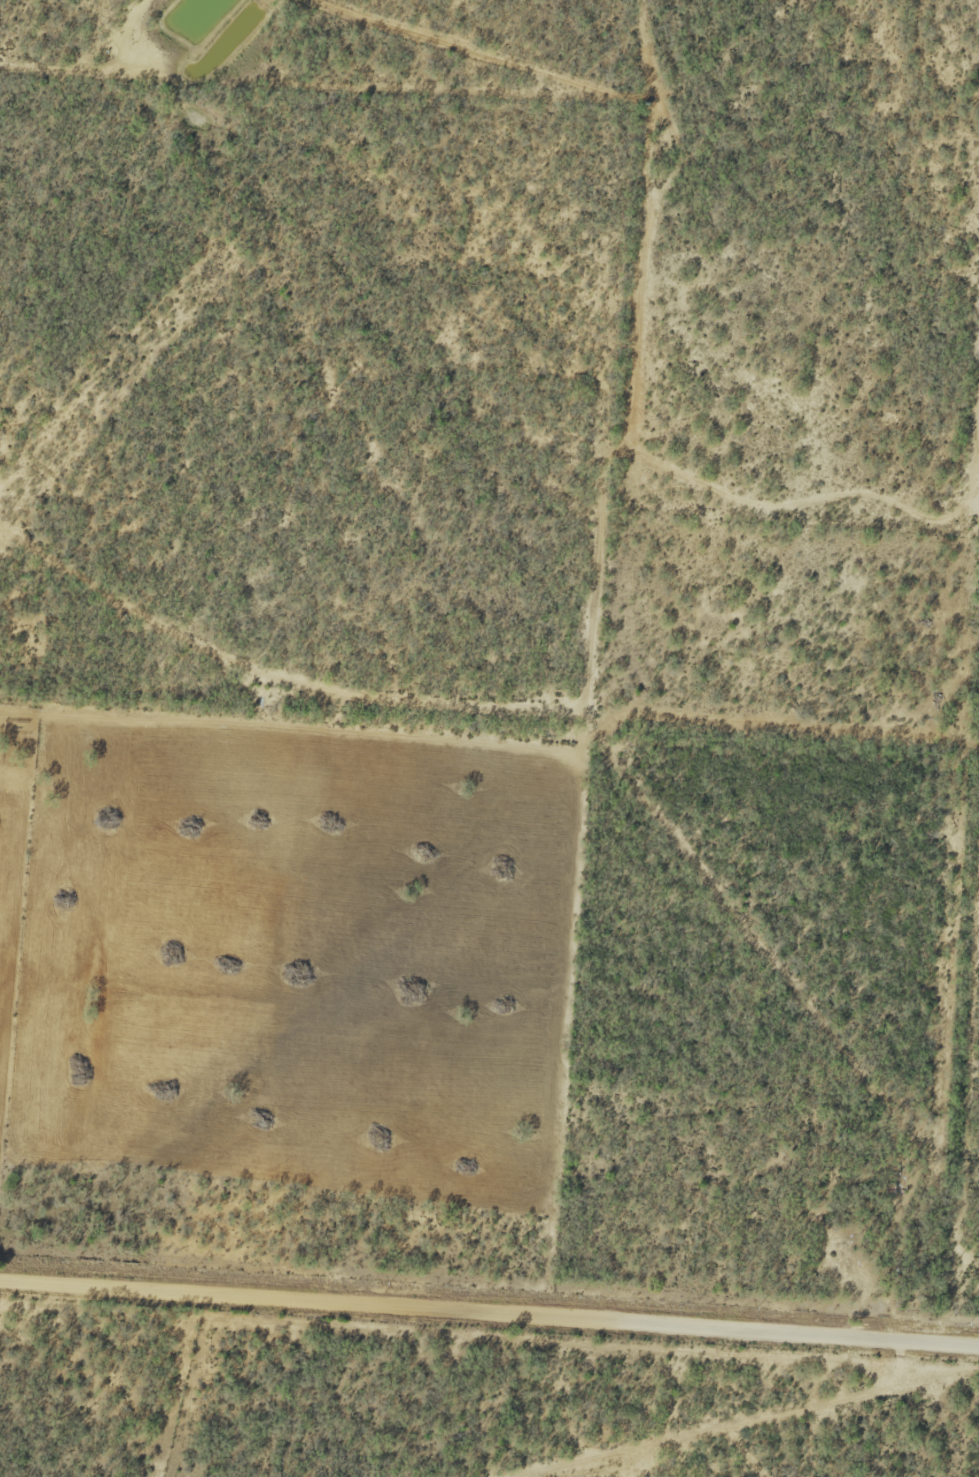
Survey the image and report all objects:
road: (489, 1300)

